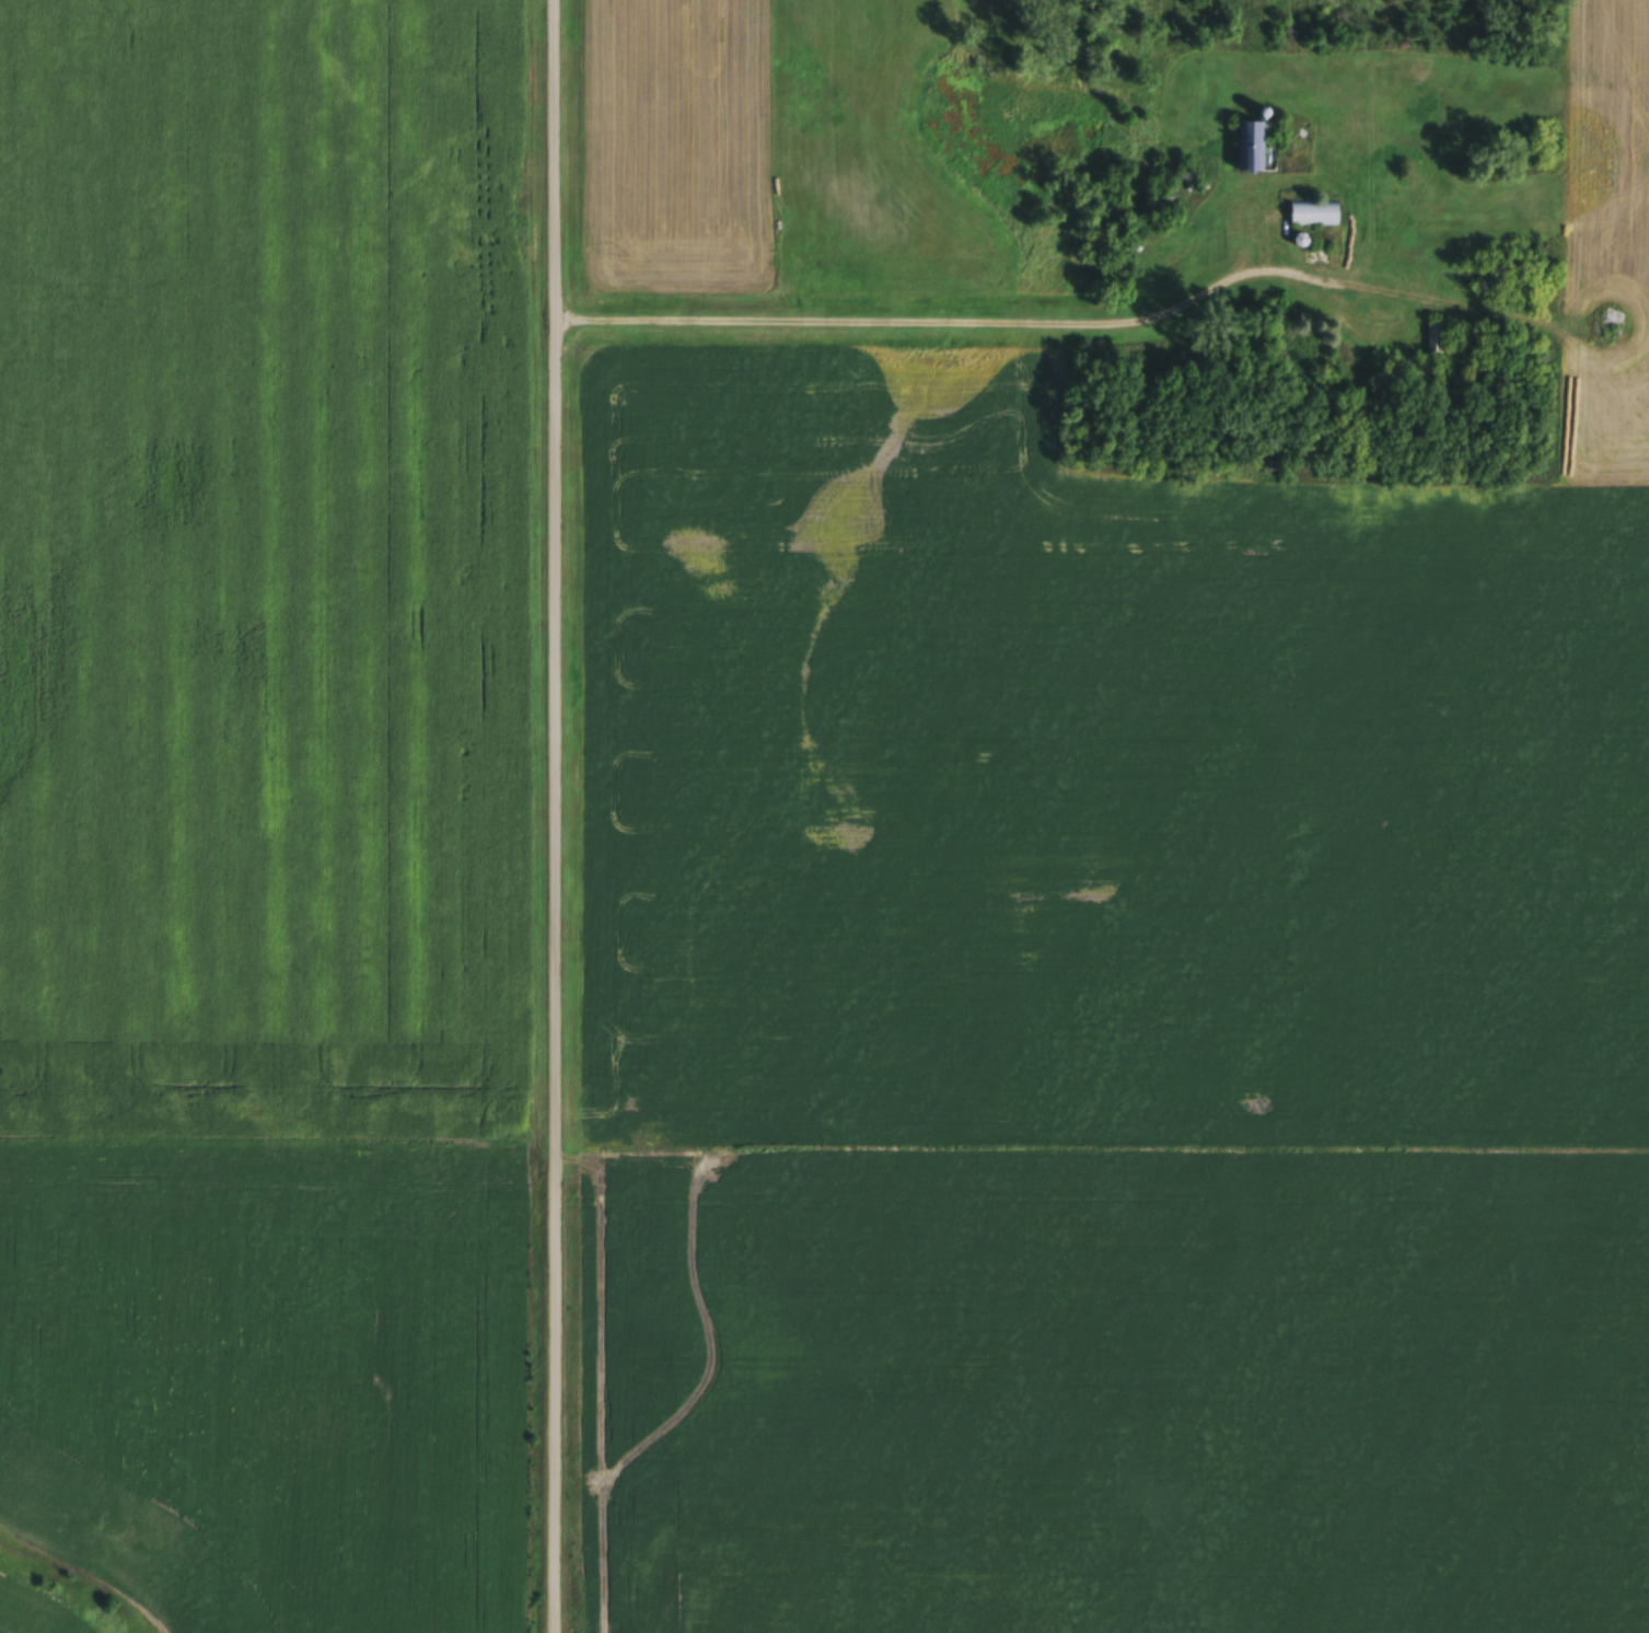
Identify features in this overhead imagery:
building: (1255, 151)
building: (1313, 216)
road: (999, 313)
building: (1612, 321)
building: (1433, 343)
road: (560, 816)
building: (944, 1617)

